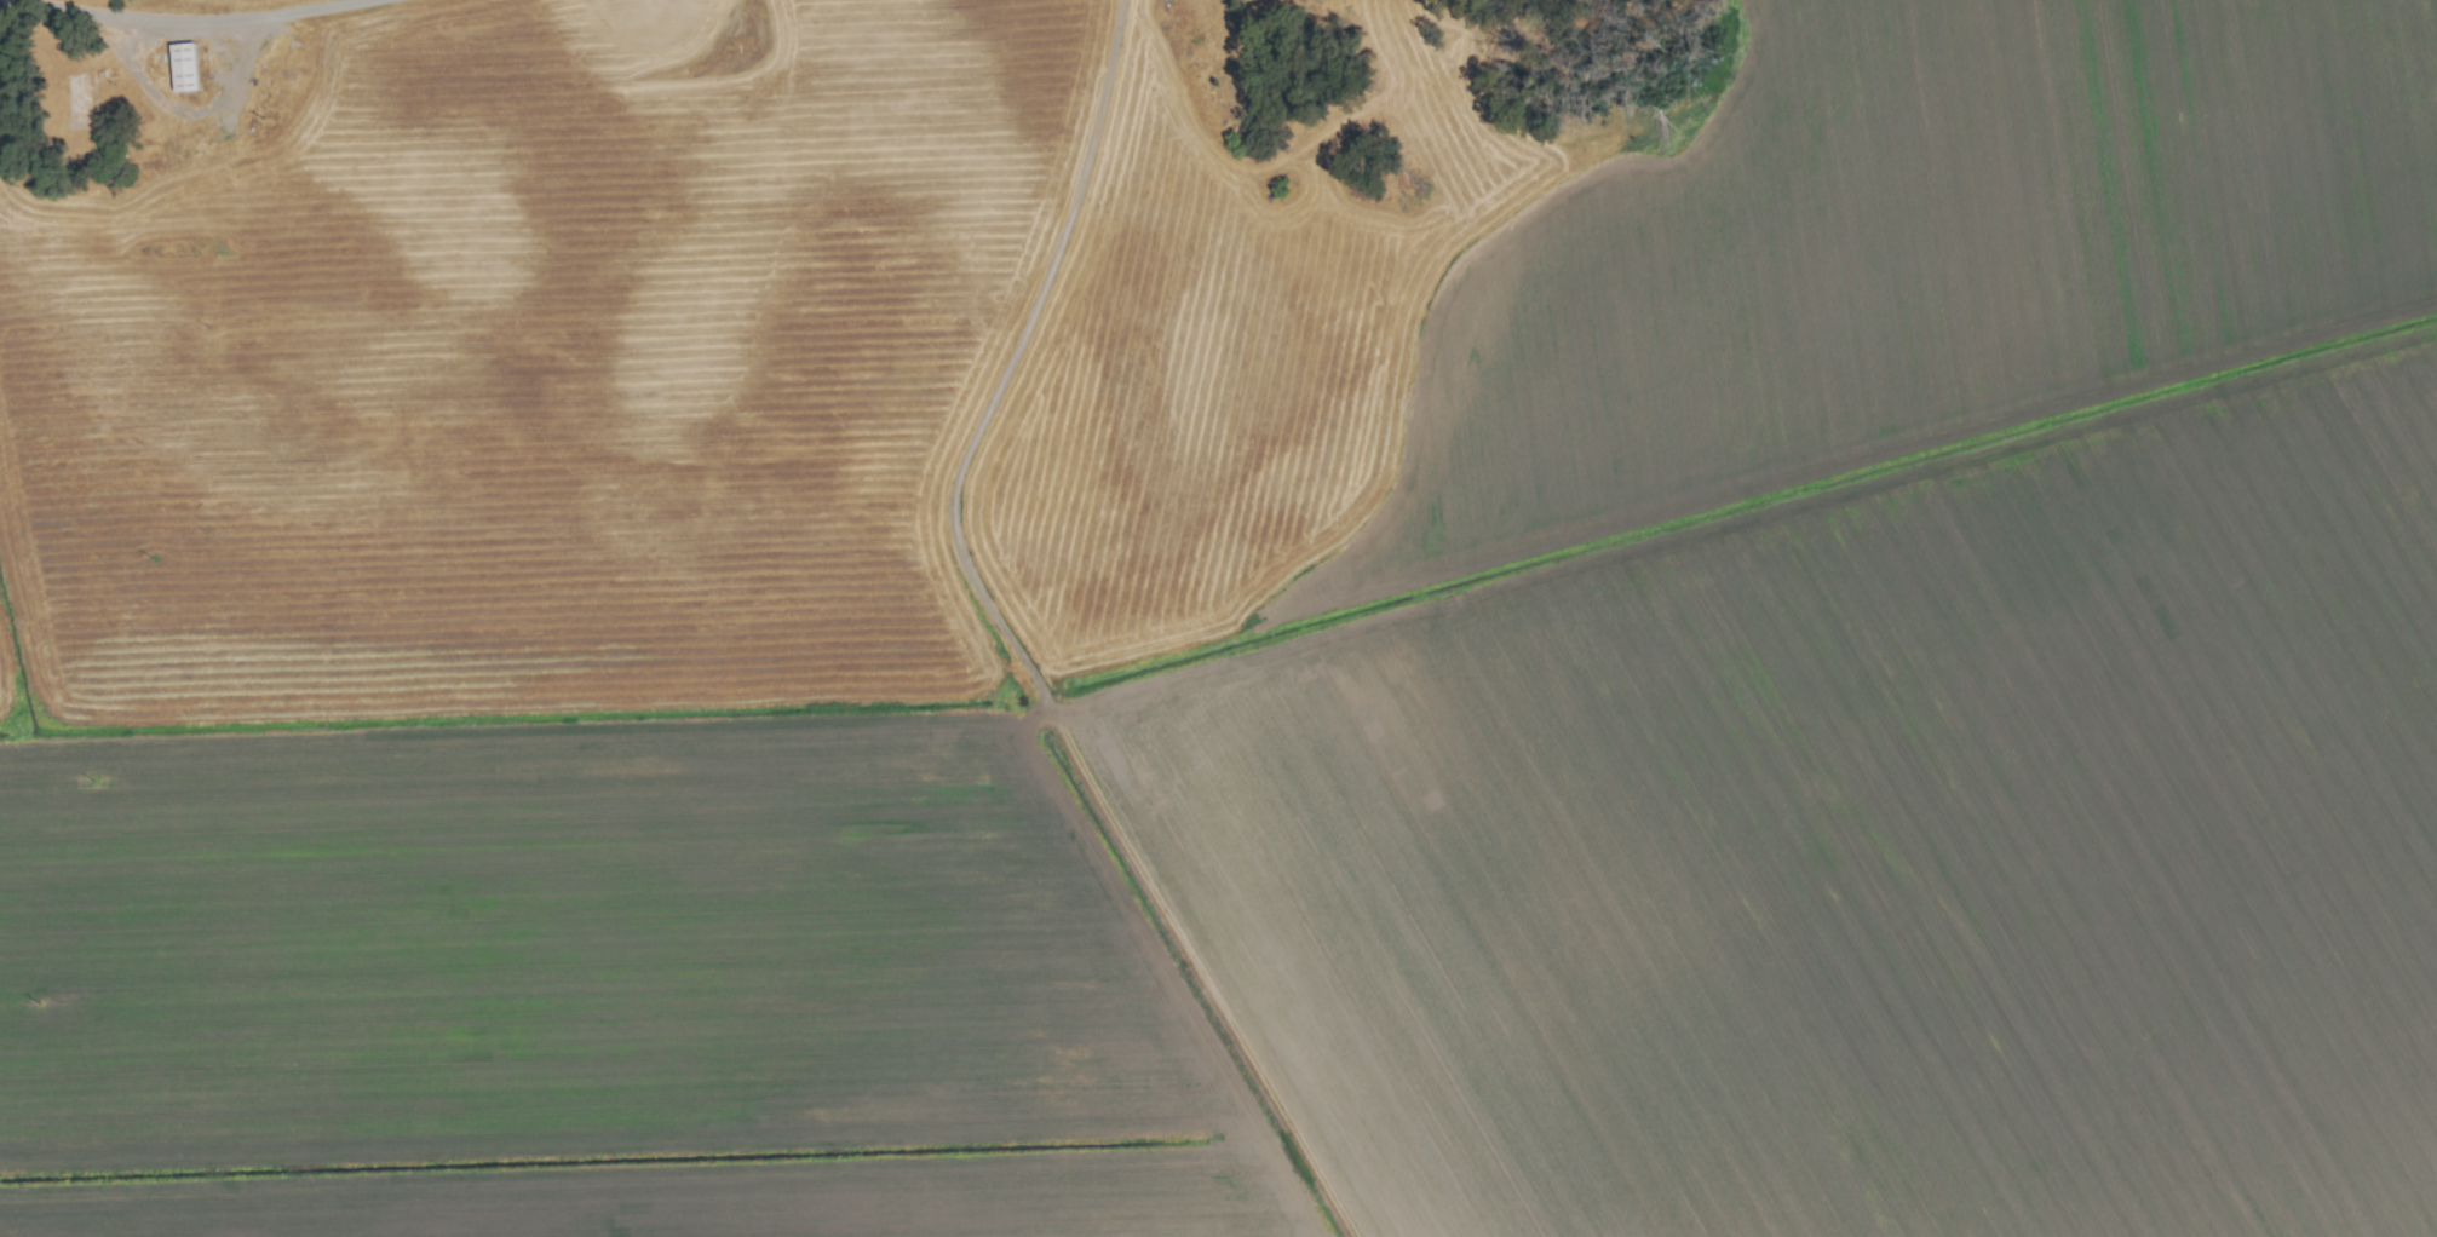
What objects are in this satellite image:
road: (189, 22)
building: (184, 67)
crop: (1218, 618)

